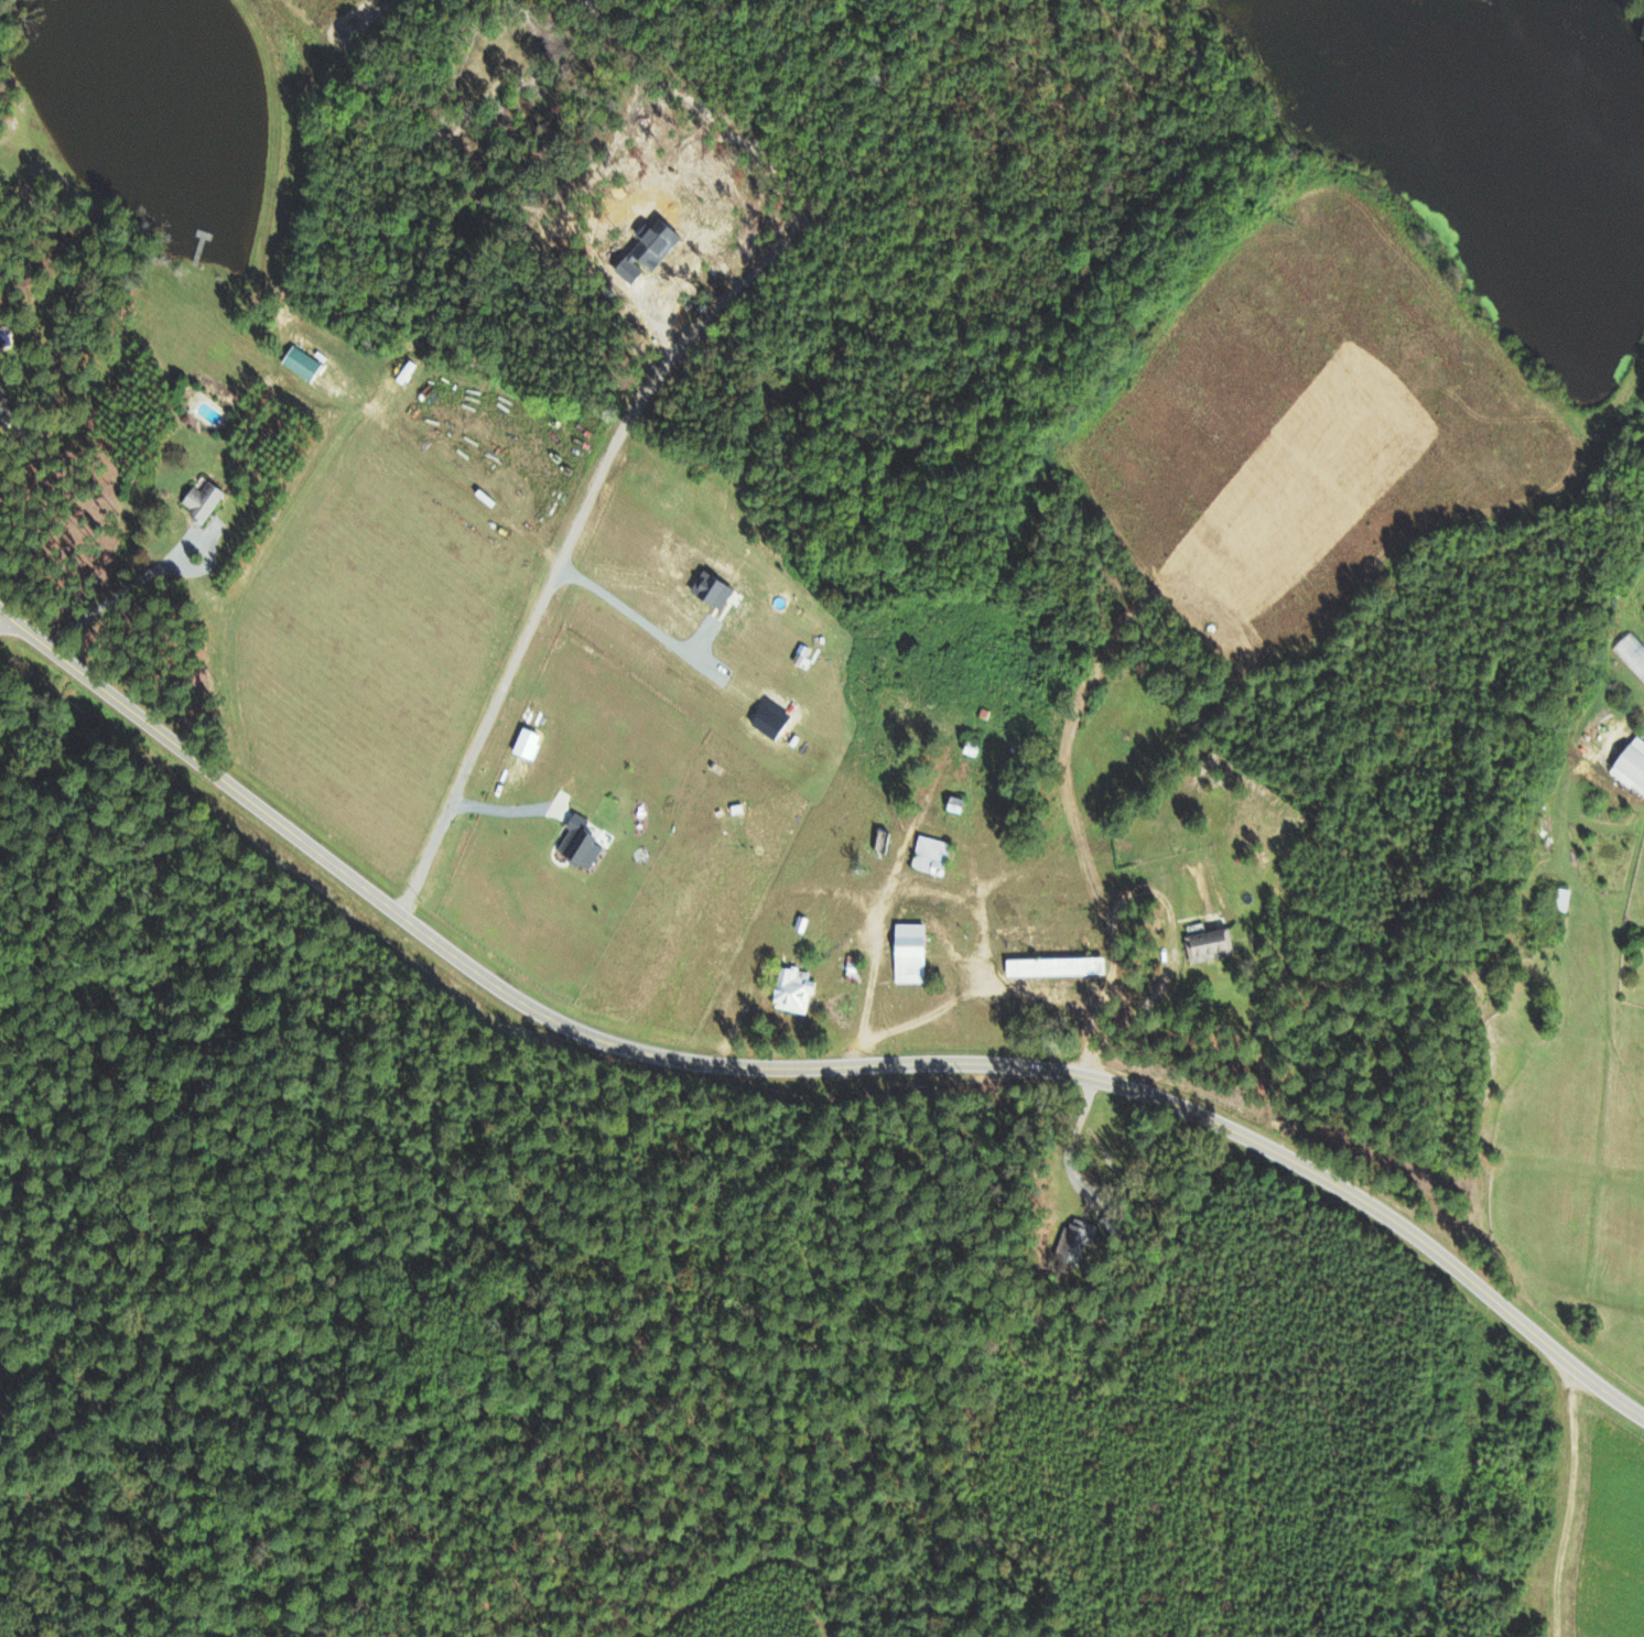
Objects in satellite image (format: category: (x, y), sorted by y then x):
building: (299, 364)
building: (199, 501)
road: (118, 593)
road: (638, 614)
building: (1631, 654)
road: (493, 712)
building: (1631, 766)
building: (576, 842)
building: (928, 854)
road: (1157, 893)
building: (1560, 899)
building: (1208, 945)
building: (907, 953)
building: (1052, 966)
building: (790, 989)
road: (986, 989)
road: (802, 1070)
building: (1071, 1243)

